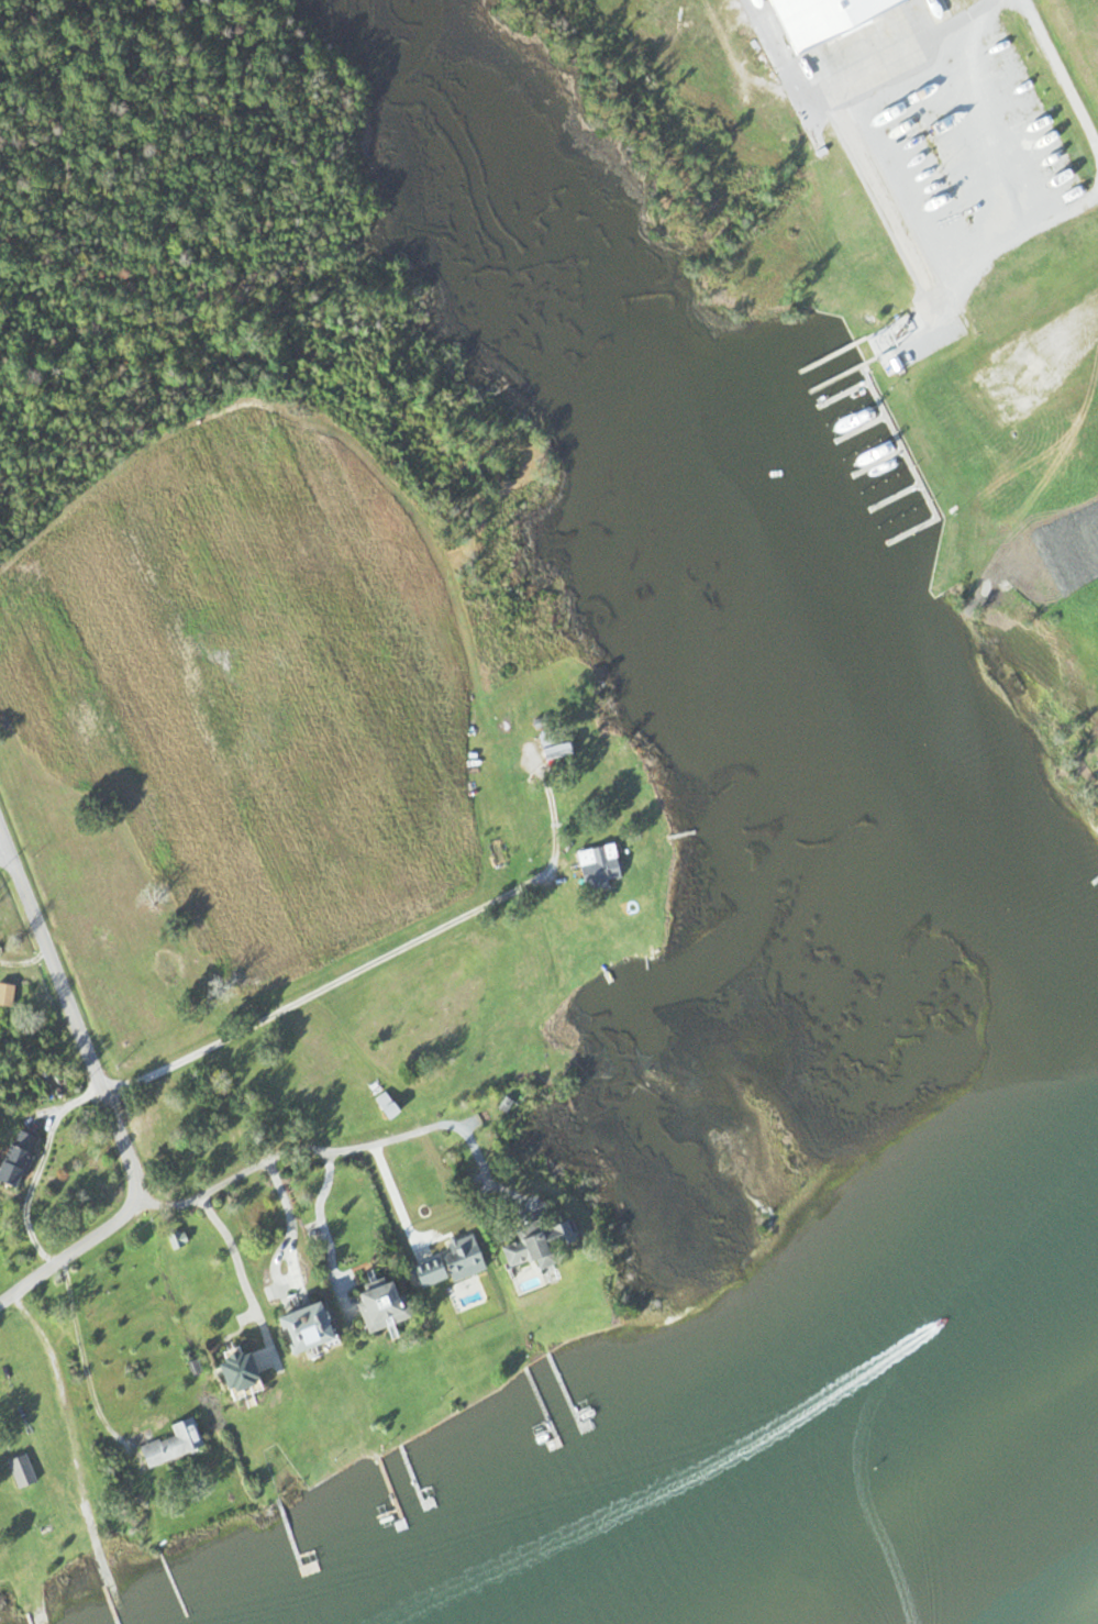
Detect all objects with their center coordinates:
building: (816, 19)
road: (925, 56)
road: (1058, 76)
road: (1076, 333)
building: (1007, 391)
road: (4, 853)
building: (594, 863)
building: (4, 994)
road: (76, 1015)
road: (297, 1148)
building: (12, 1158)
building: (171, 1237)
building: (532, 1242)
building: (456, 1256)
road: (71, 1257)
building: (376, 1304)
building: (298, 1324)
building: (225, 1369)
building: (167, 1443)
building: (16, 1469)

